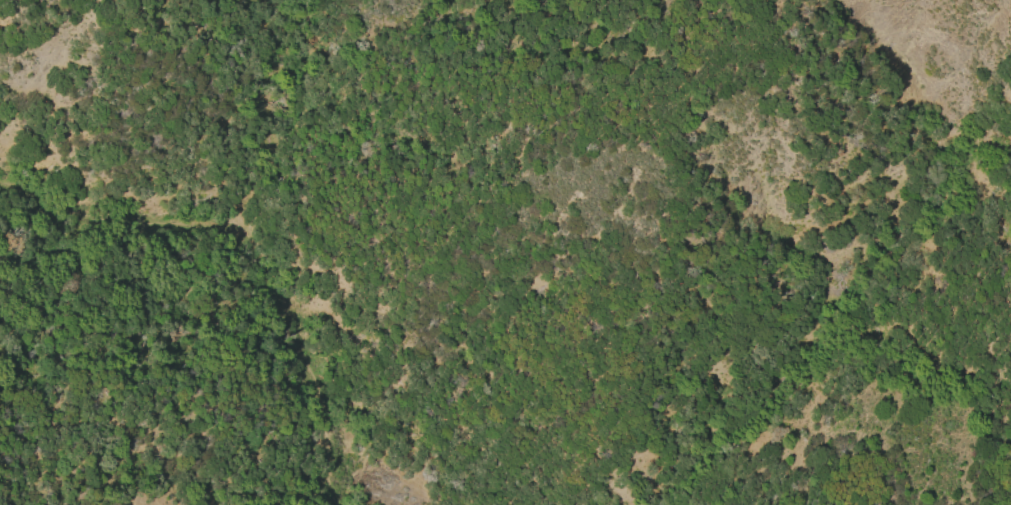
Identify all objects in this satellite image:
road: (247, 239)
road: (331, 493)

